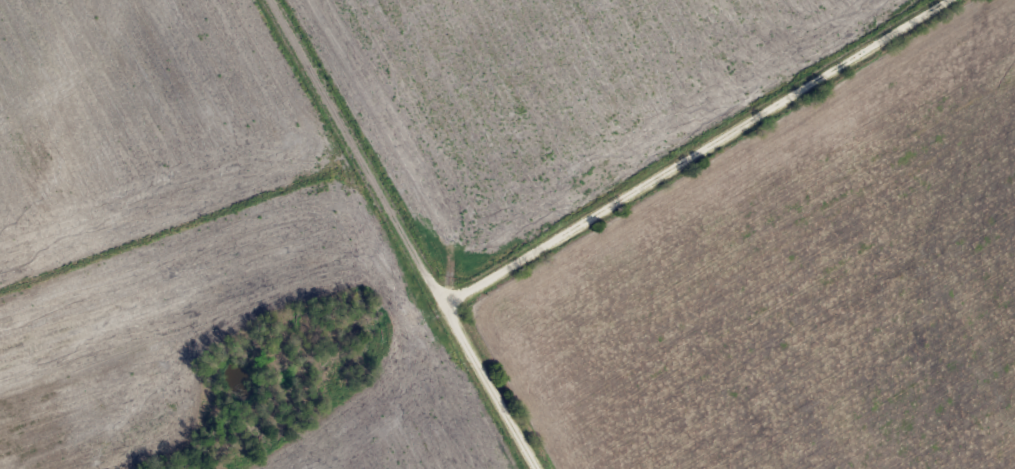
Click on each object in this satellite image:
road: (363, 156)
road: (702, 157)
road: (492, 391)

